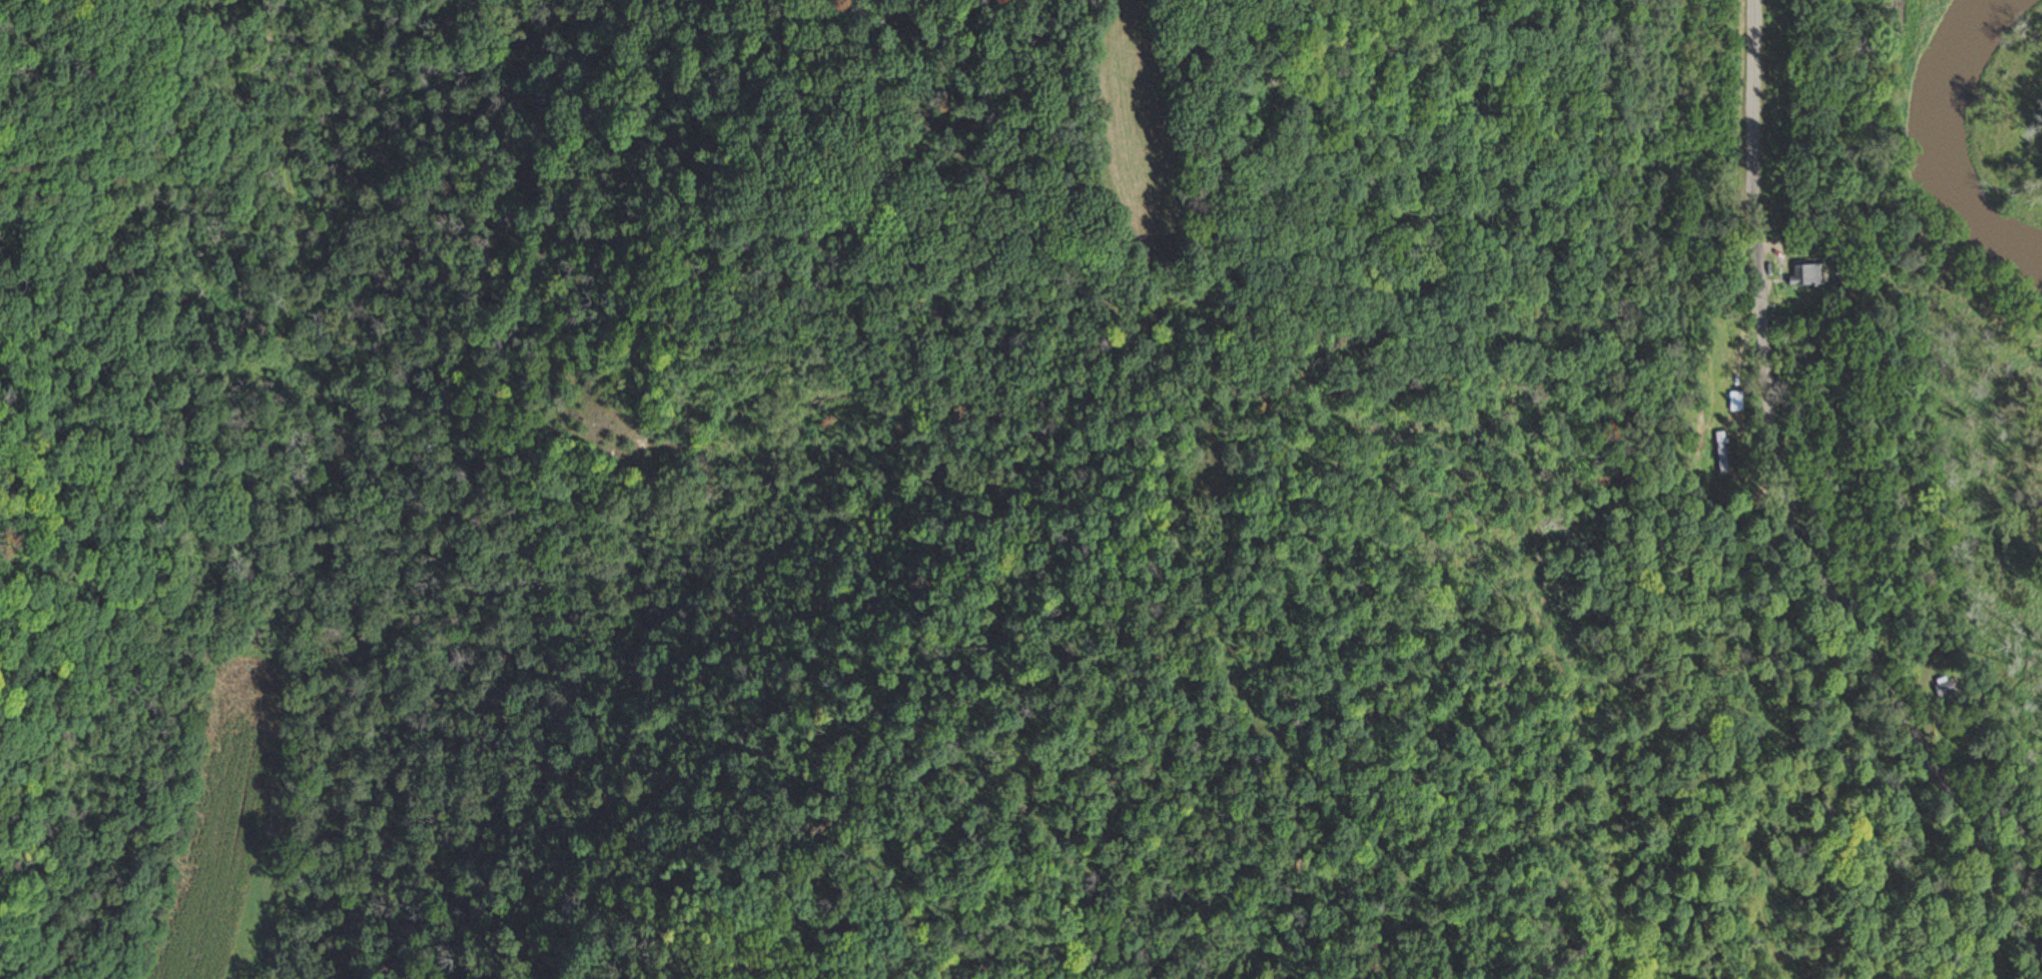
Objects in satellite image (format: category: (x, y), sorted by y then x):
river: (1951, 143)
building: (1804, 275)
building: (1722, 452)
road: (1795, 516)
building: (1943, 688)

